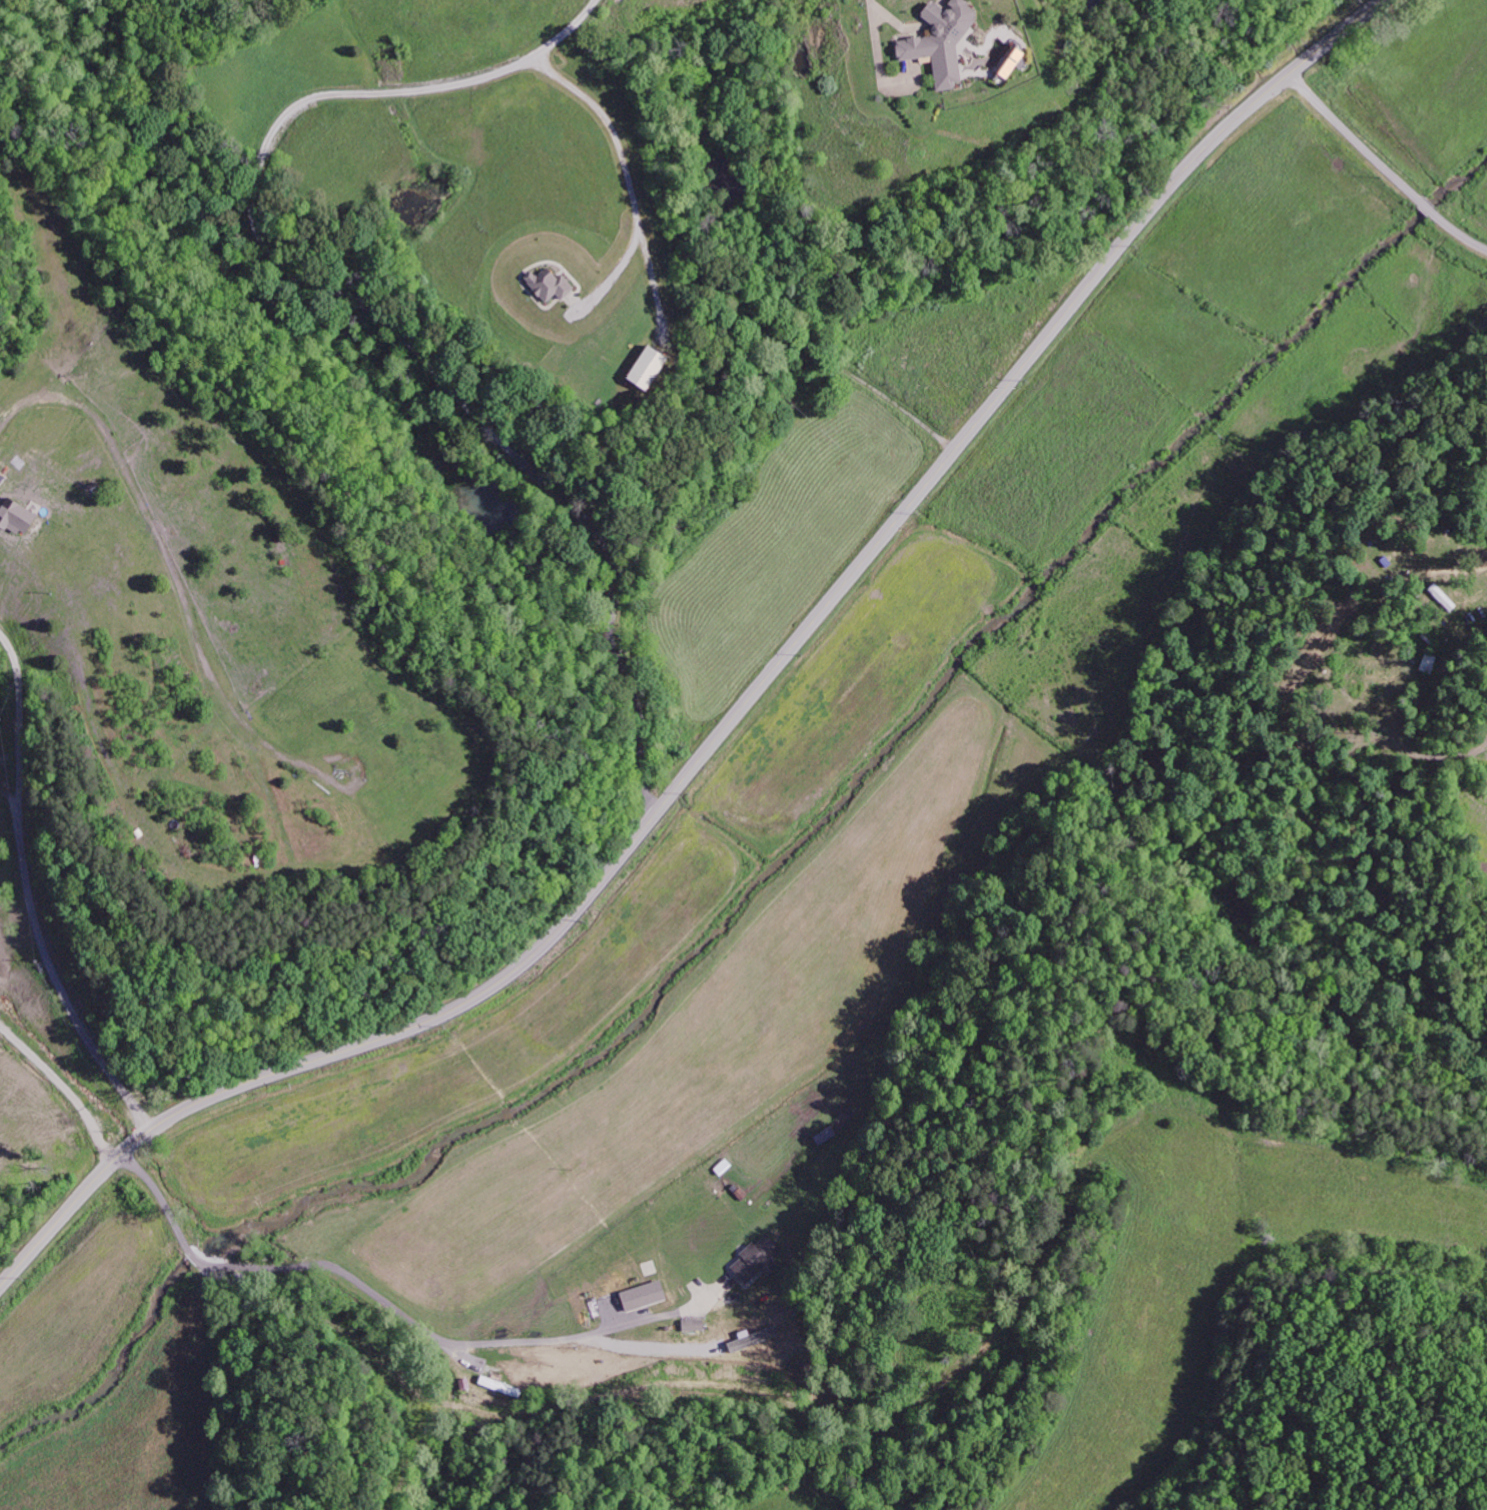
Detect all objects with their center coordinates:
building: (937, 40)
building: (1007, 62)
building: (546, 284)
building: (640, 368)
building: (15, 517)
road: (738, 708)
road: (45, 955)
building: (755, 1259)
building: (638, 1295)
building: (690, 1325)

